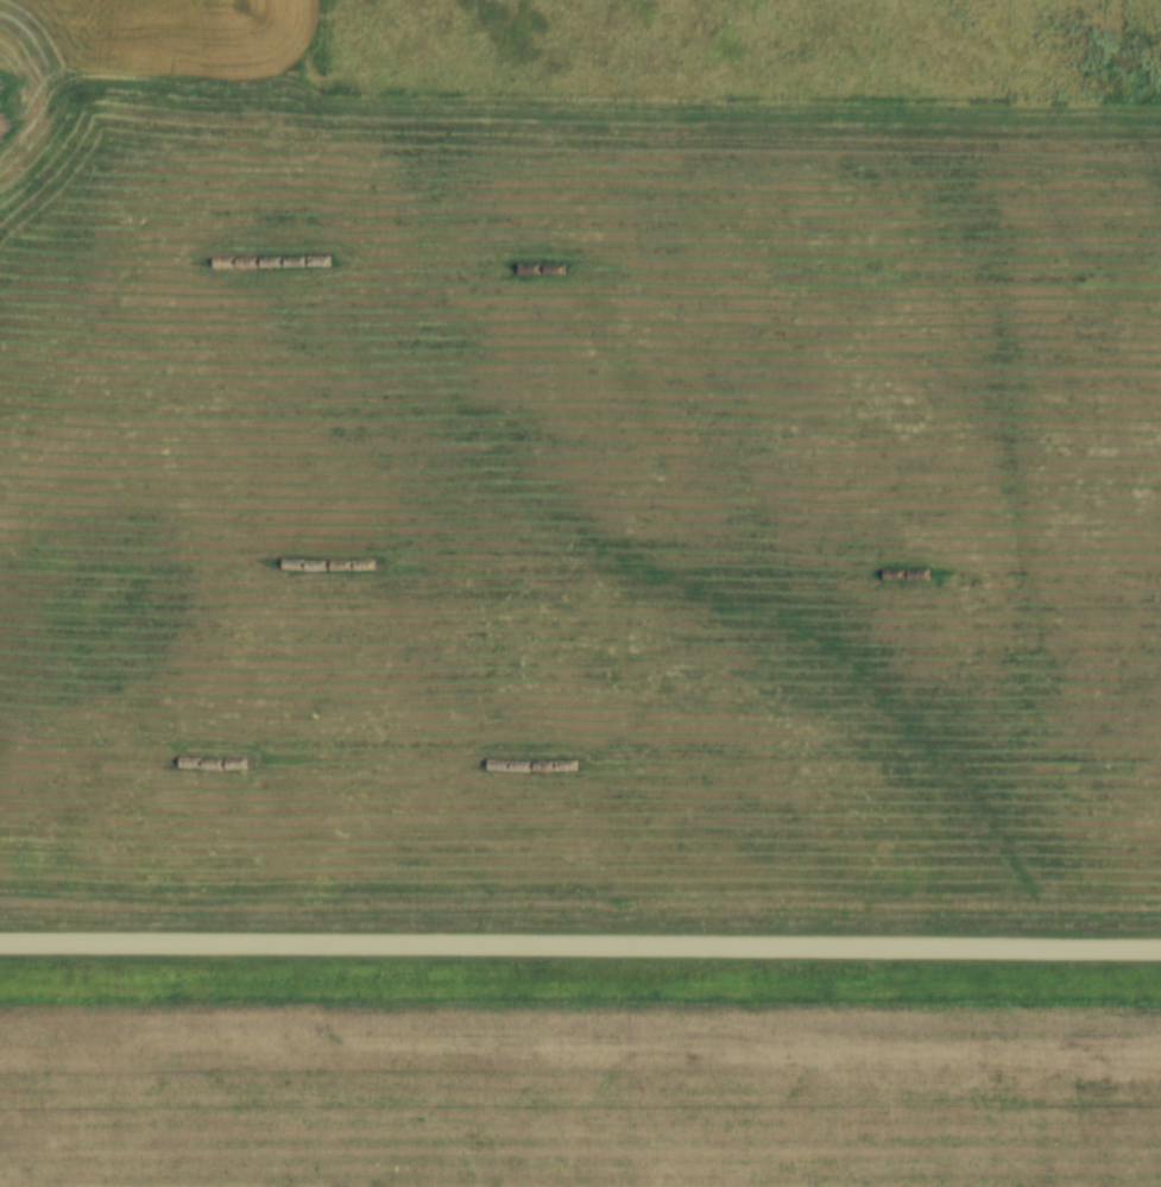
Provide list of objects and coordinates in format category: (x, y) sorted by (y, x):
road: (580, 946)

